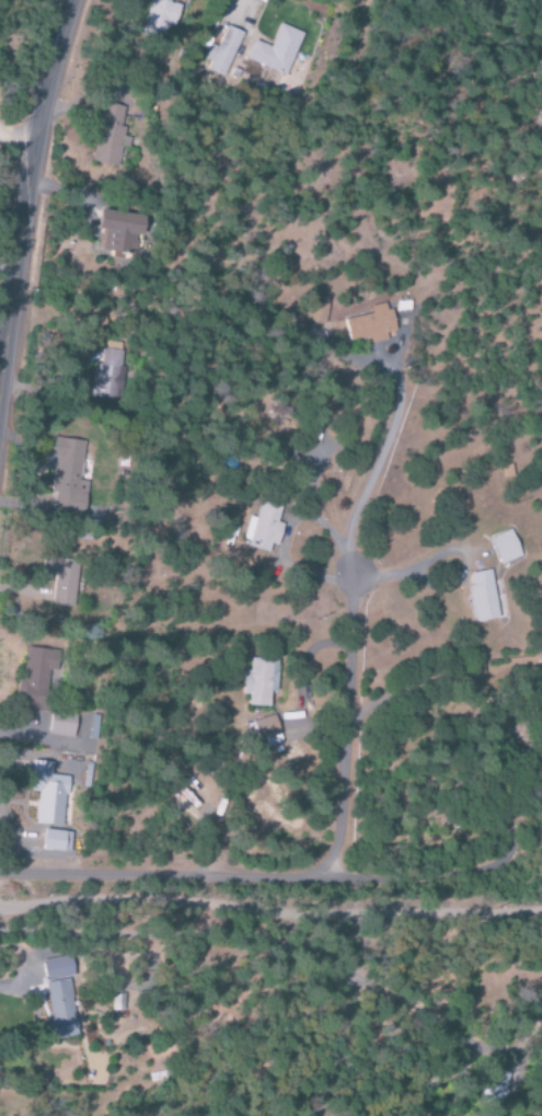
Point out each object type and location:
building: (159, 18)
building: (222, 50)
building: (275, 50)
building: (539, 118)
building: (108, 136)
road: (19, 139)
road: (28, 203)
road: (108, 203)
building: (116, 232)
building: (318, 309)
building: (369, 325)
building: (107, 373)
building: (66, 476)
building: (262, 528)
building: (503, 548)
building: (62, 583)
building: (481, 596)
building: (35, 678)
building: (258, 681)
building: (60, 723)
building: (263, 730)
building: (539, 781)
building: (46, 794)
road: (326, 833)
building: (55, 841)
road: (445, 953)
building: (57, 997)
road: (270, 1025)
road: (151, 1085)
building: (496, 1091)

